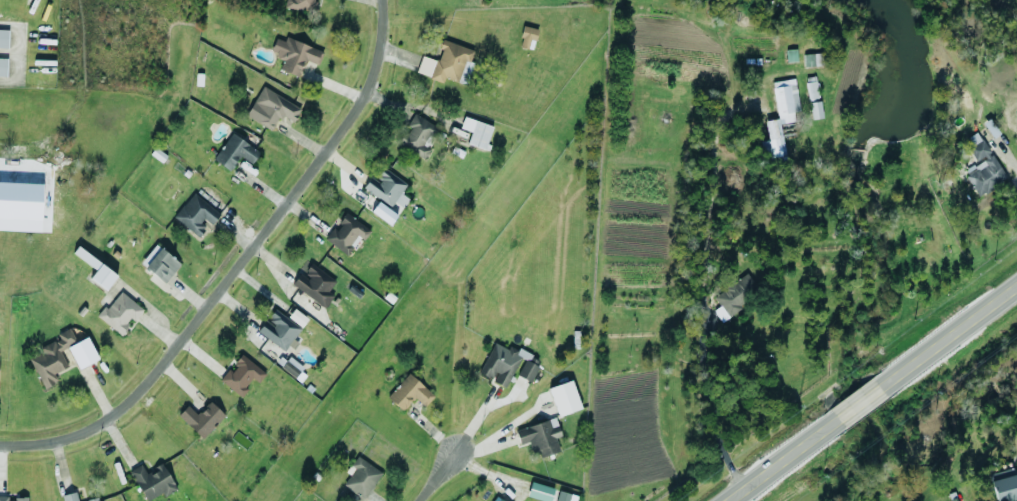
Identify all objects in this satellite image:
building: (301, 5)
building: (527, 36)
building: (3, 38)
road: (18, 52)
building: (294, 54)
building: (791, 55)
building: (811, 59)
building: (445, 62)
building: (2, 66)
building: (813, 97)
building: (271, 108)
building: (780, 117)
building: (990, 128)
building: (476, 131)
building: (1016, 135)
building: (416, 136)
building: (234, 152)
road: (1009, 157)
building: (981, 165)
building: (386, 194)
building: (195, 214)
building: (346, 233)
road: (234, 266)
building: (314, 284)
building: (732, 297)
building: (119, 312)
building: (278, 329)
building: (82, 352)
building: (51, 358)
building: (502, 363)
building: (292, 367)
building: (527, 370)
building: (241, 375)
building: (408, 392)
road: (873, 393)
building: (564, 397)
road: (712, 406)
building: (201, 418)
building: (540, 436)
road: (435, 476)
building: (152, 481)
building: (1003, 485)
building: (539, 491)
building: (70, 496)
building: (565, 496)
building: (11, 499)
building: (93, 499)
building: (496, 499)

